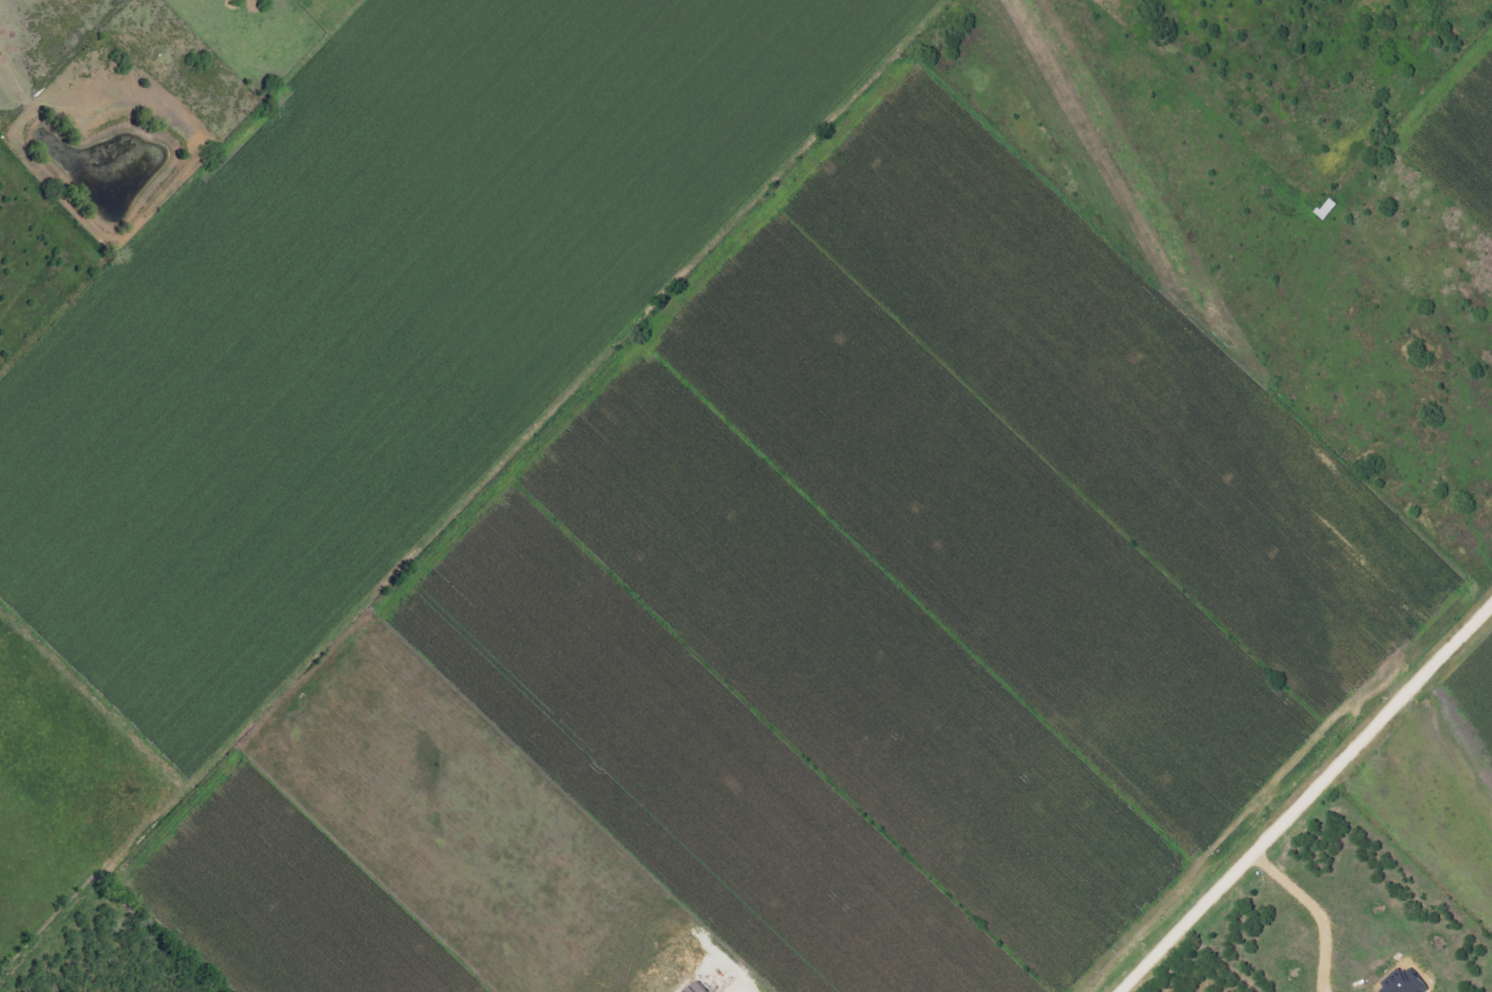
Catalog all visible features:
crop: (1463, 126)
crop: (383, 319)
crop: (824, 626)
crop: (66, 784)
road: (1309, 800)
road: (1317, 911)
building: (699, 988)

